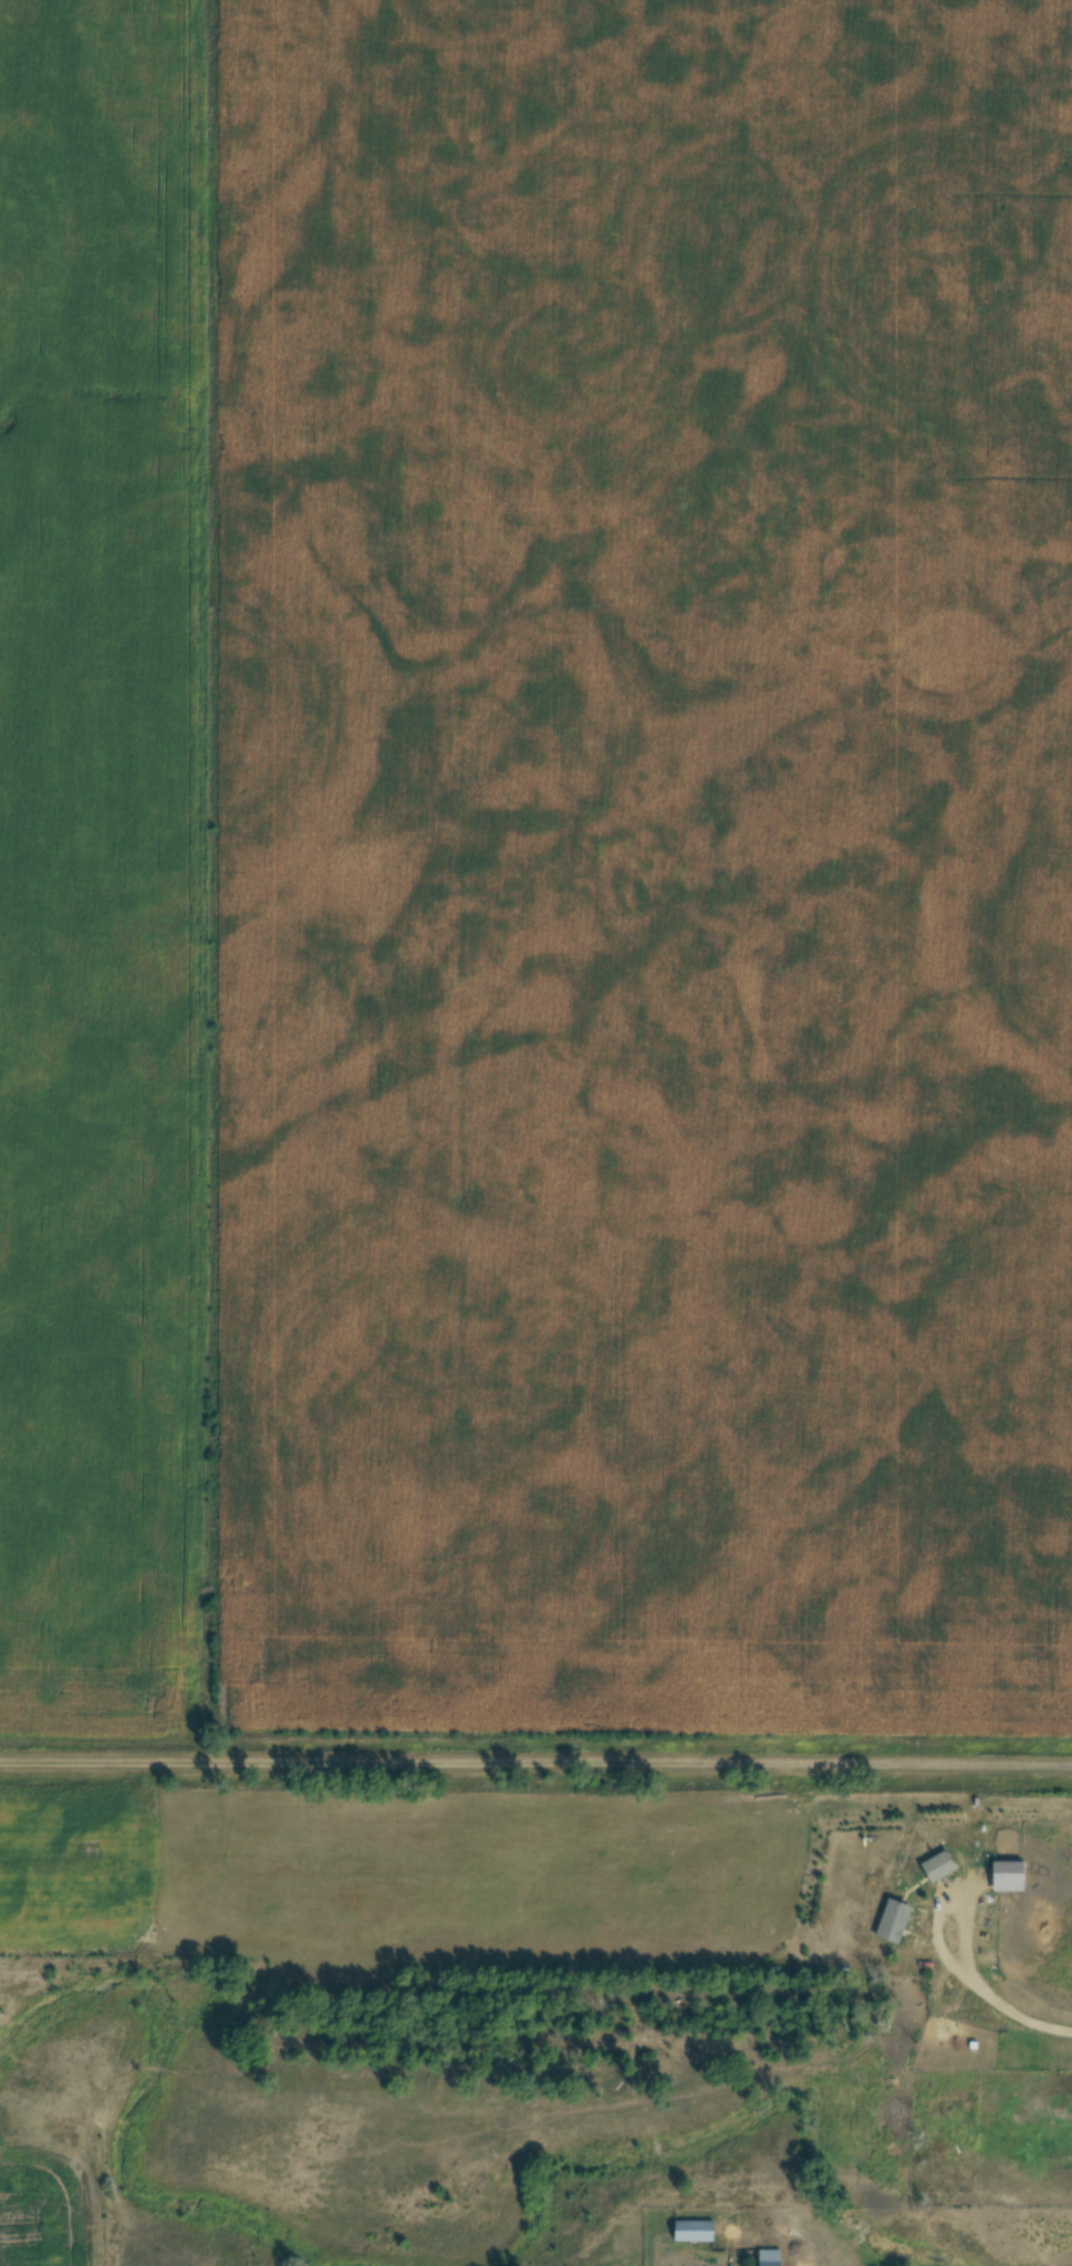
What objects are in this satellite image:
road: (535, 1760)
building: (938, 1867)
road: (945, 1901)
building: (893, 1921)
road: (1020, 2014)
building: (694, 2231)
building: (770, 2257)

